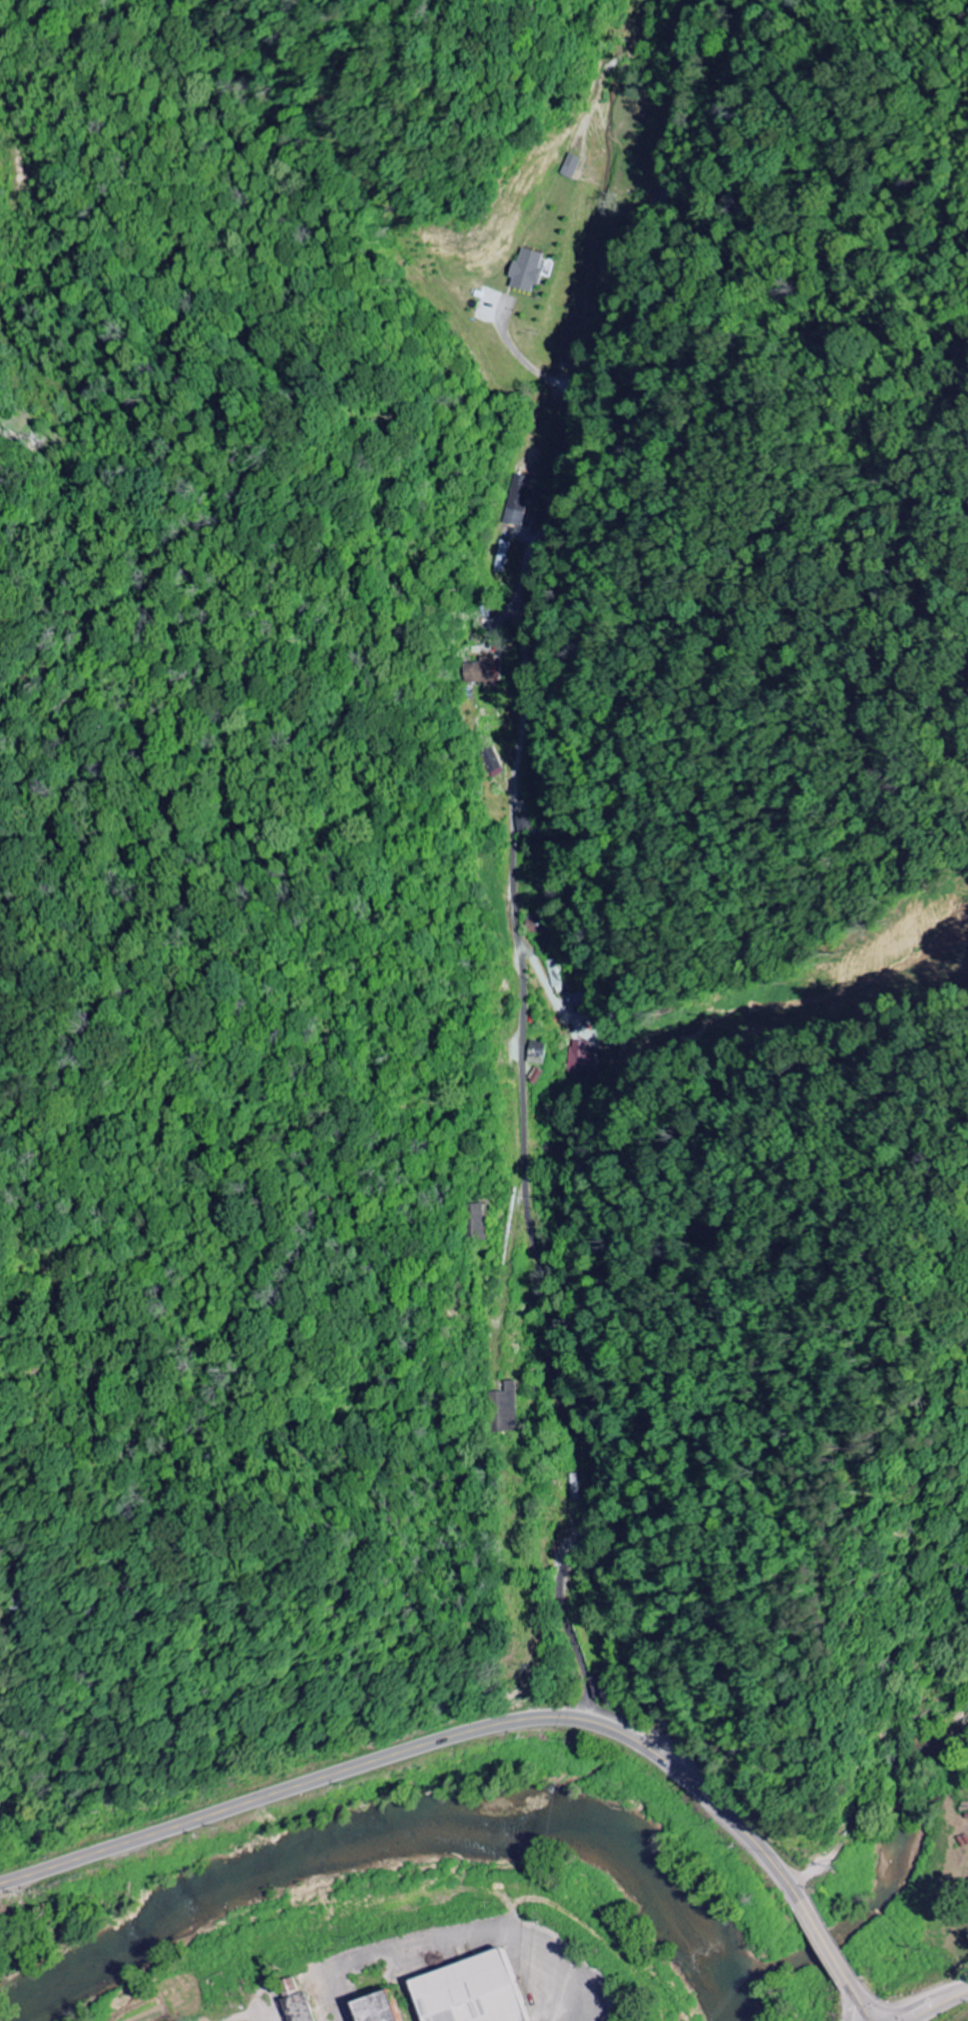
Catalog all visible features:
building: (532, 271)
building: (523, 823)
road: (506, 856)
building: (538, 1049)
building: (582, 1056)
building: (479, 1223)
road: (512, 1257)
building: (505, 1409)
road: (494, 1723)
road: (1, 1801)
river: (409, 1834)
river: (892, 1887)
building: (466, 1992)
road: (932, 2004)
building: (375, 2008)
railway: (962, 2016)

